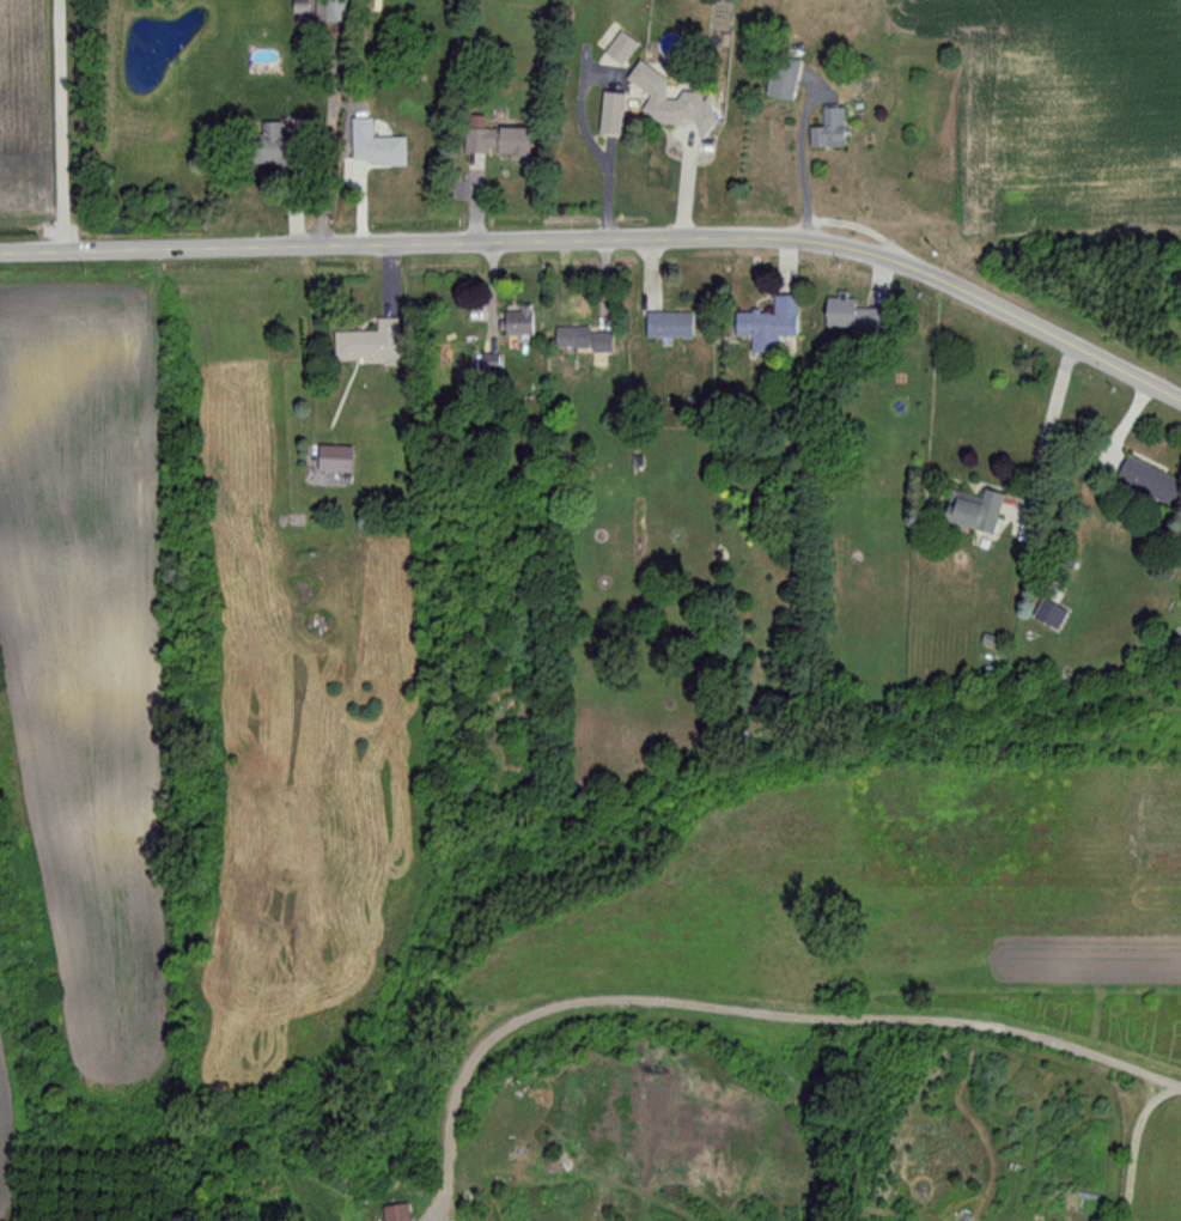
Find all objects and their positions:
building: (333, 11)
building: (620, 48)
building: (781, 78)
building: (666, 102)
building: (609, 114)
road: (61, 122)
building: (828, 130)
building: (495, 141)
building: (269, 145)
building: (375, 147)
road: (798, 164)
road: (609, 238)
building: (844, 312)
building: (516, 321)
building: (666, 324)
building: (767, 324)
building: (570, 338)
building: (369, 342)
road: (1051, 430)
building: (333, 460)
building: (1146, 481)
building: (972, 511)
road: (754, 1012)
road: (1146, 1088)
road: (1136, 1144)

